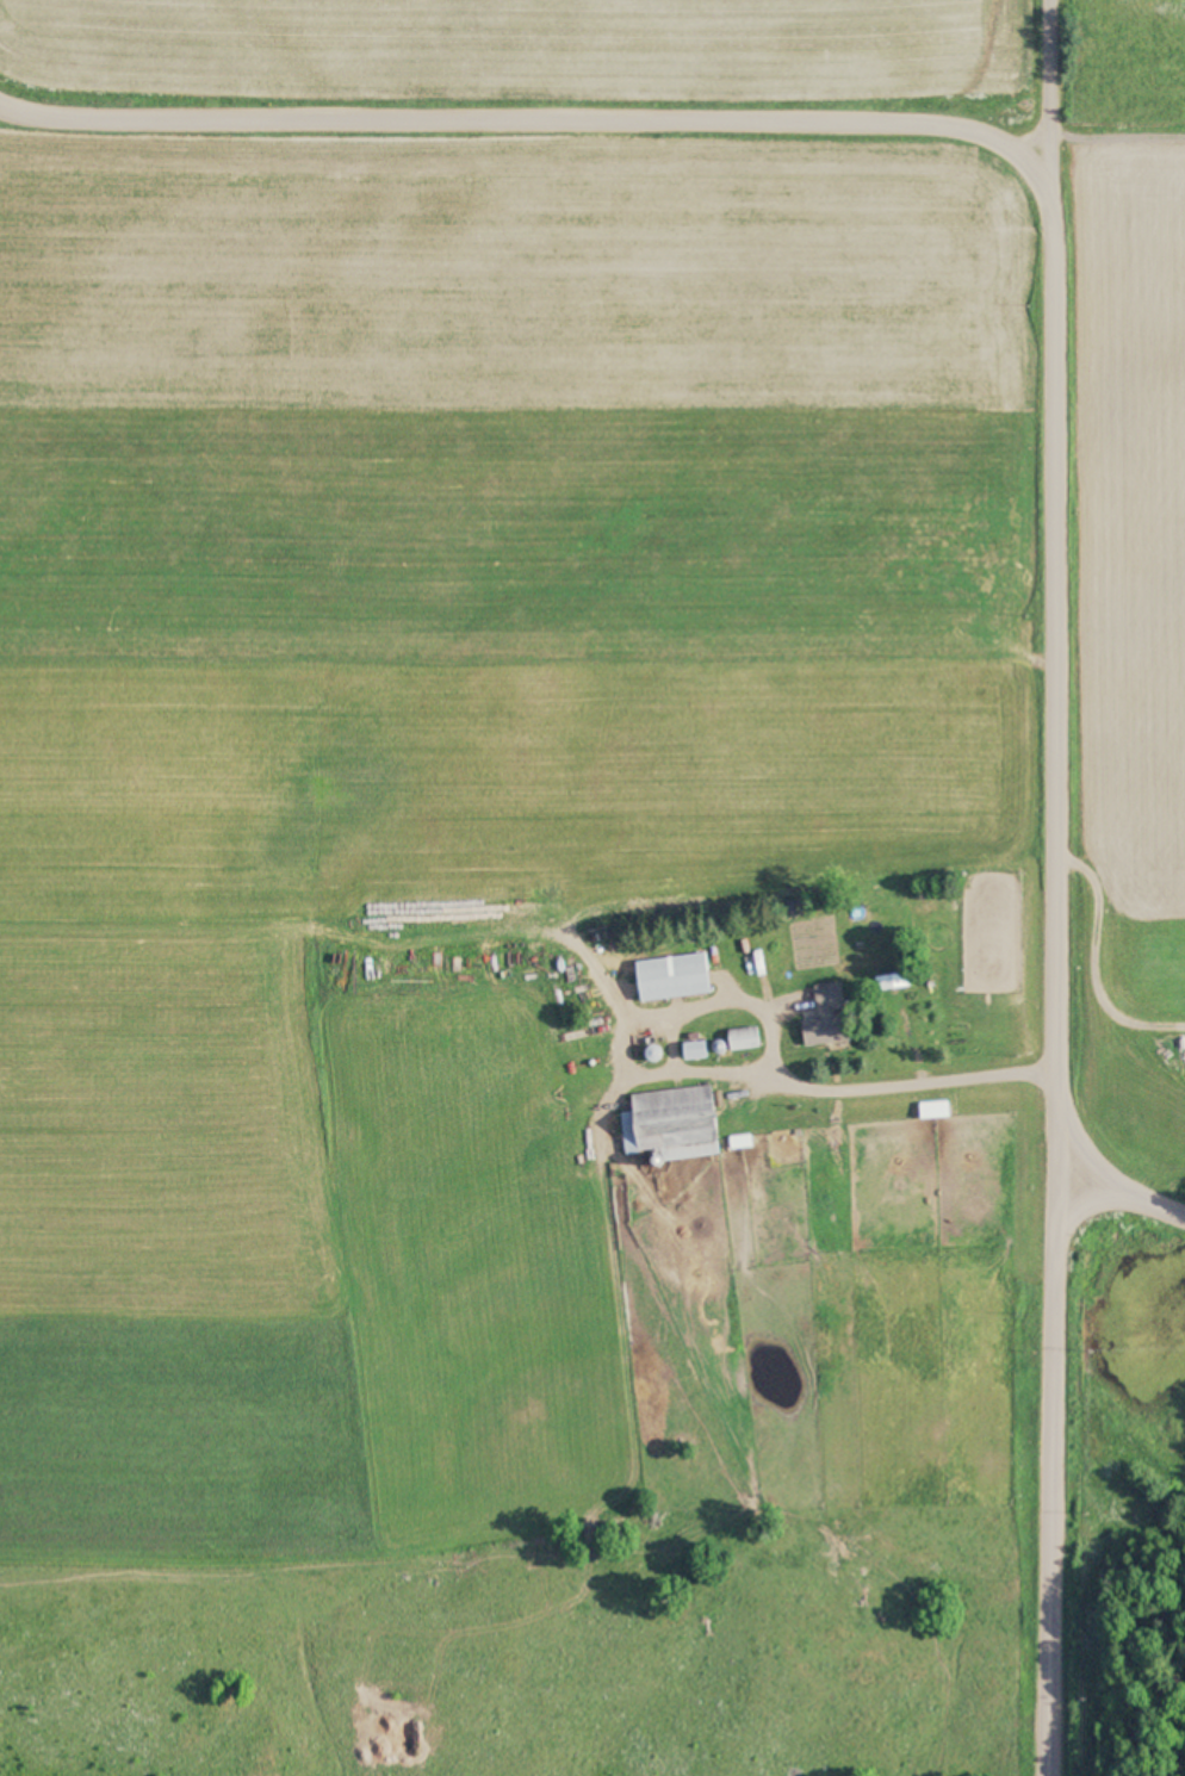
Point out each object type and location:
road: (1078, 103)
road: (982, 139)
building: (671, 976)
building: (893, 980)
building: (826, 1016)
building: (743, 1038)
building: (694, 1050)
building: (671, 1123)
road: (1100, 1173)
road: (1092, 1216)
road: (1053, 1433)

